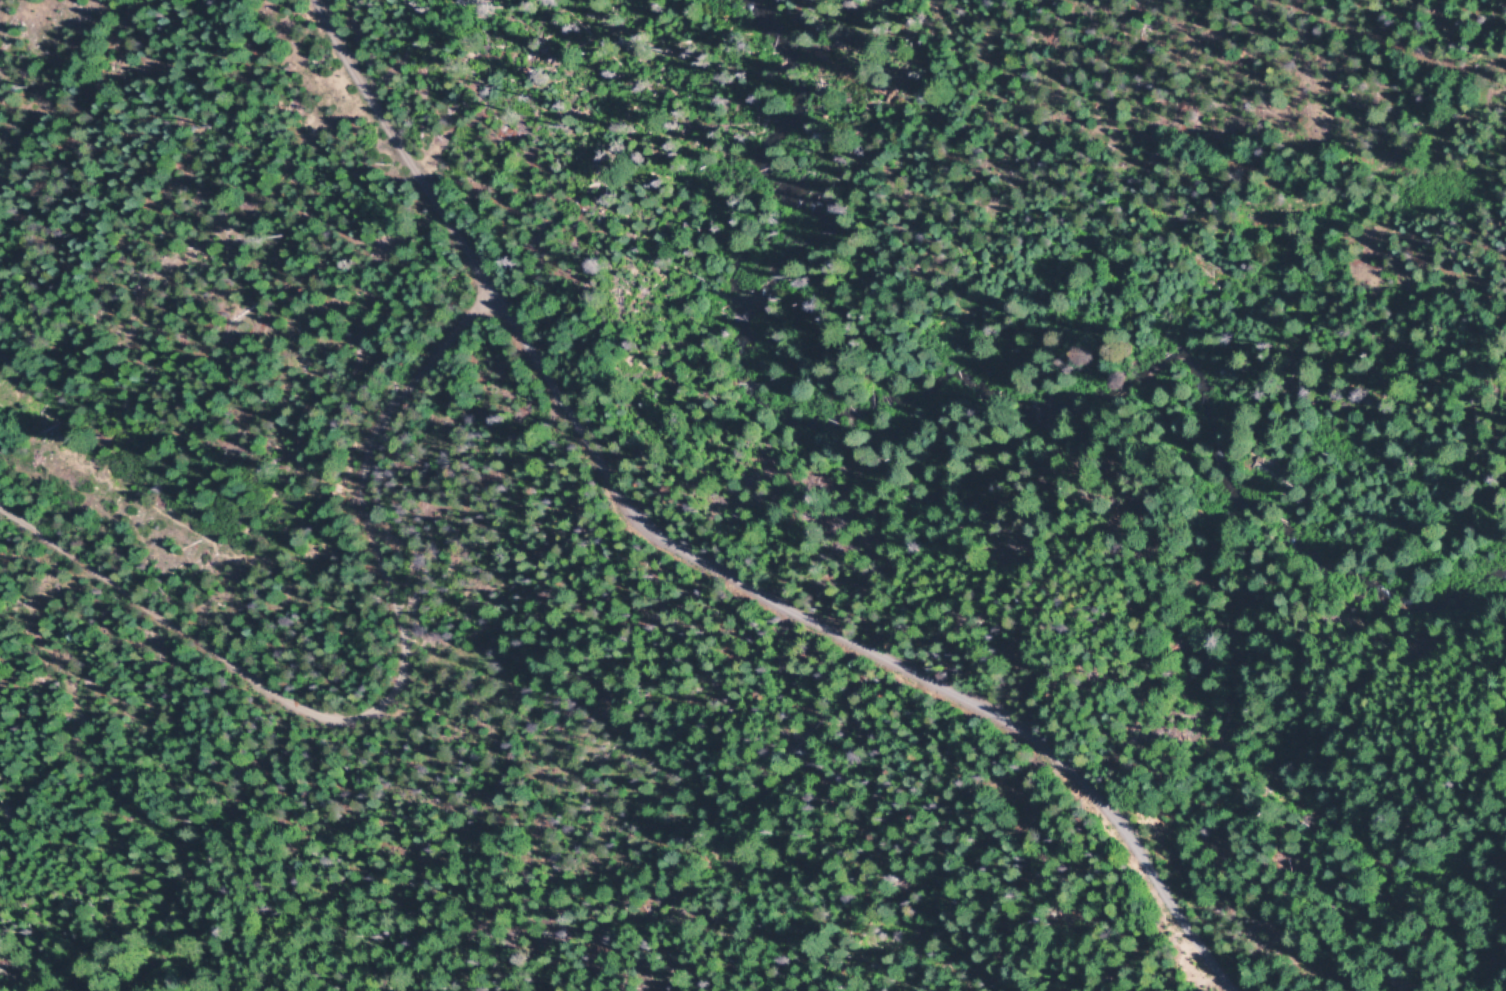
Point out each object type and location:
road: (736, 556)
road: (363, 683)

